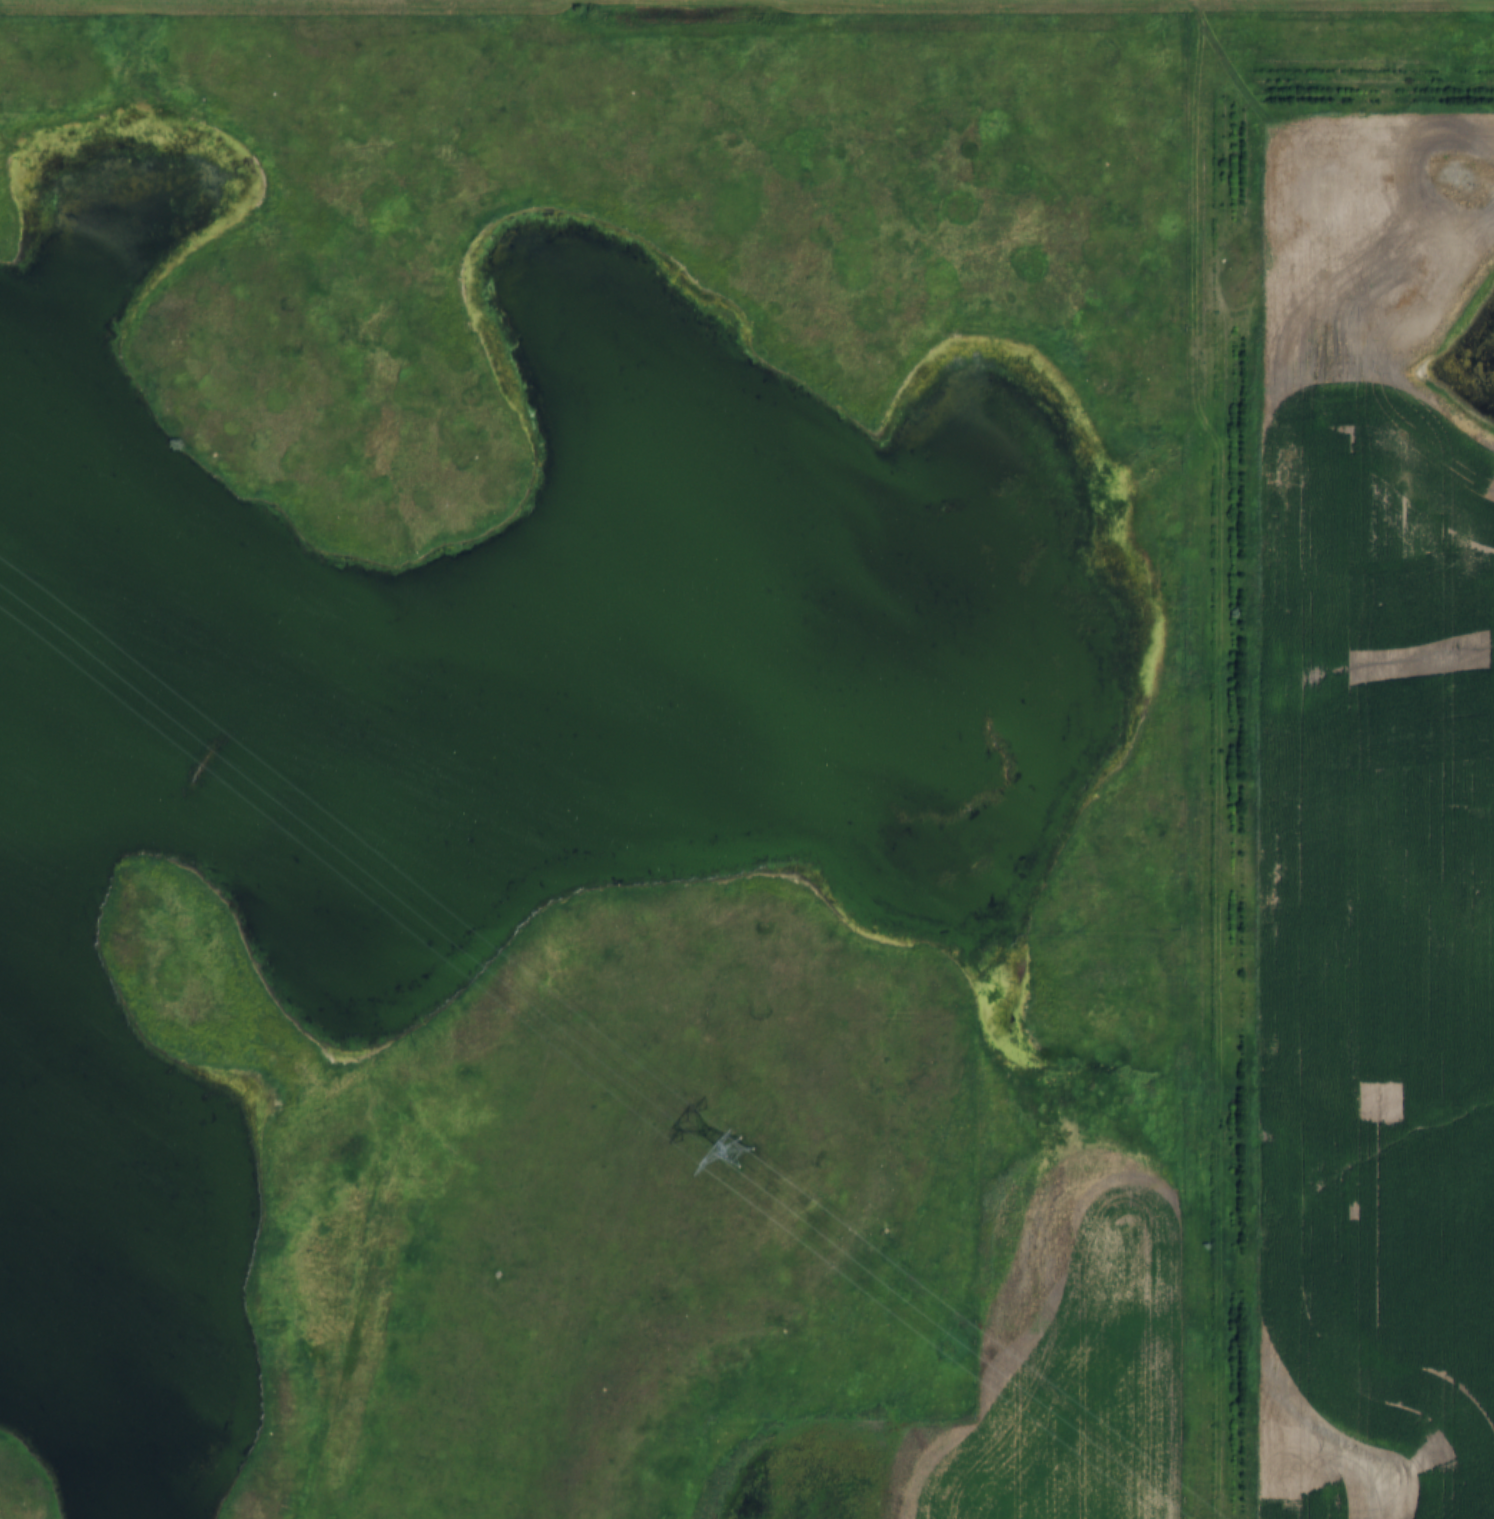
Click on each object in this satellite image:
power tower: (744, 1153)

